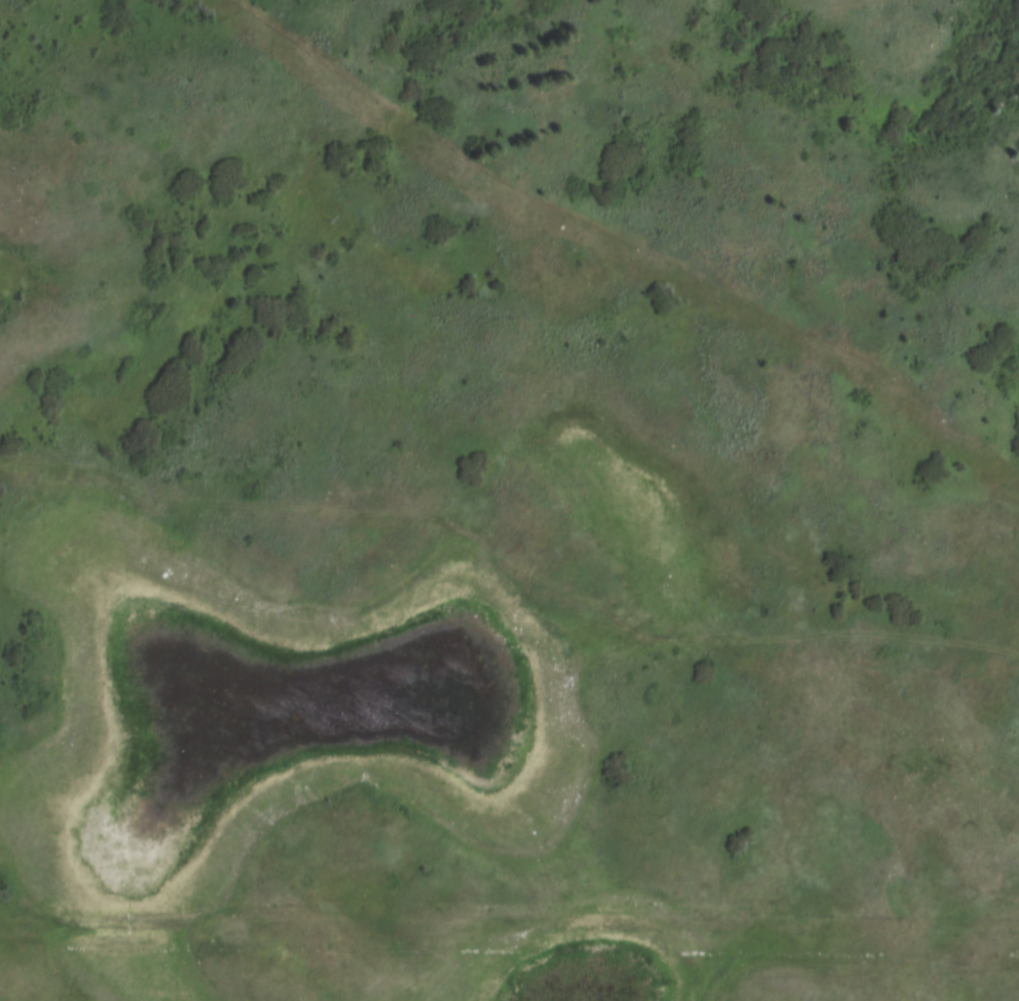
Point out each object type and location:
road: (949, 918)

